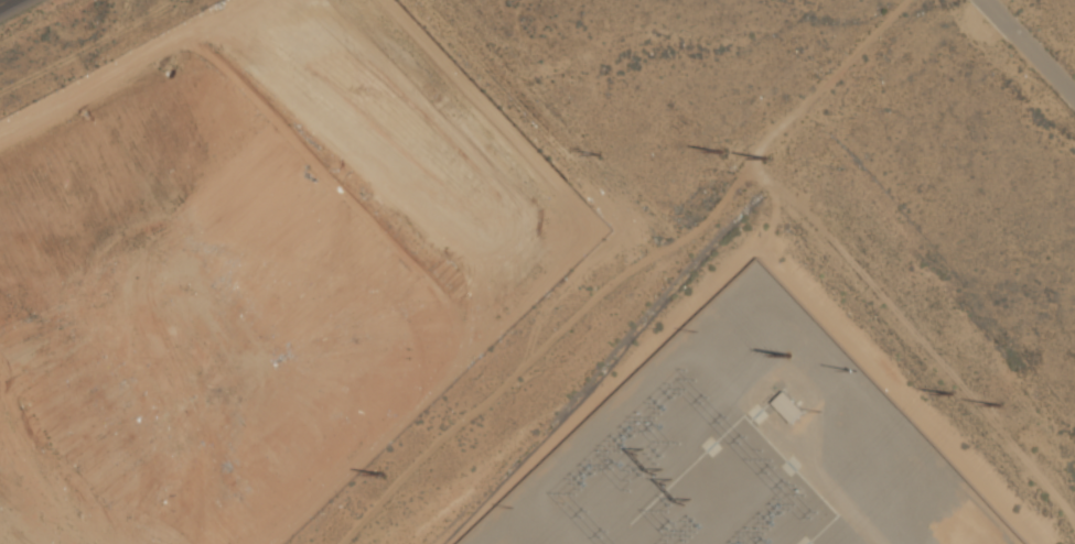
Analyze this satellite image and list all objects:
road: (3, 1)
road: (1032, 44)
power tower: (721, 153)
power tower: (766, 159)
landfill: (247, 261)
building: (786, 406)
power substation: (745, 448)
power tower: (384, 474)
road: (831, 489)

